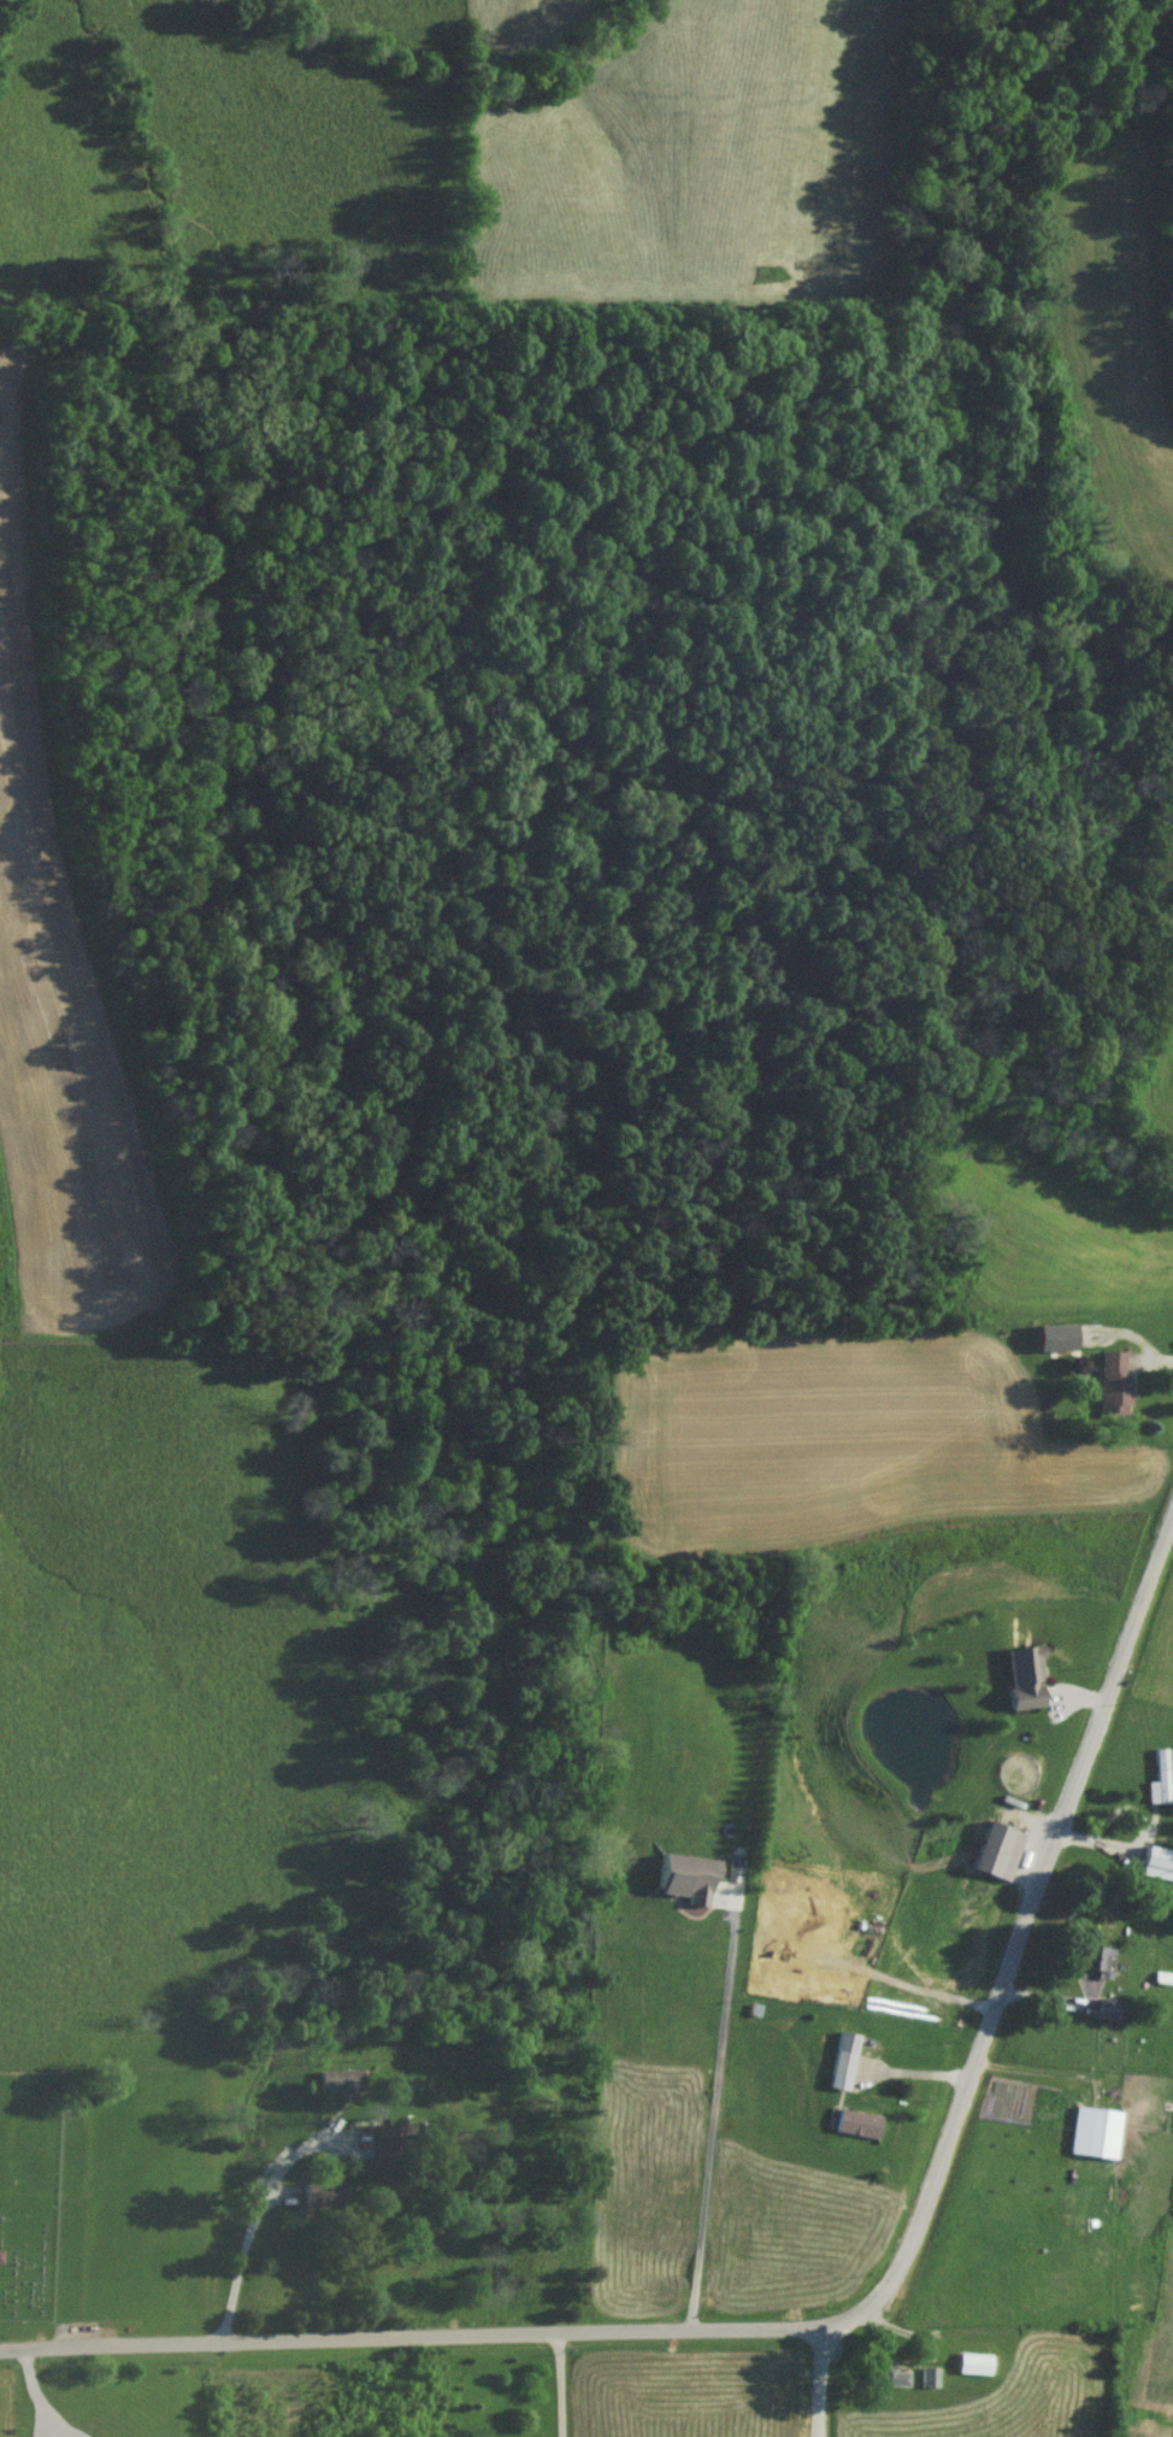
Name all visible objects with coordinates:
building: (1110, 1388)
building: (1020, 1684)
building: (1156, 1785)
building: (992, 1856)
building: (1154, 1868)
road: (1020, 1928)
building: (792, 1936)
building: (1090, 1965)
building: (1161, 1985)
building: (1104, 2015)
building: (839, 2067)
road: (1032, 2073)
road: (715, 2112)
building: (854, 2131)
building: (1091, 2138)
park: (28, 2198)
road: (246, 2238)
road: (411, 2326)
building: (969, 2371)
road: (821, 2376)
road: (558, 2379)
building: (926, 2384)

